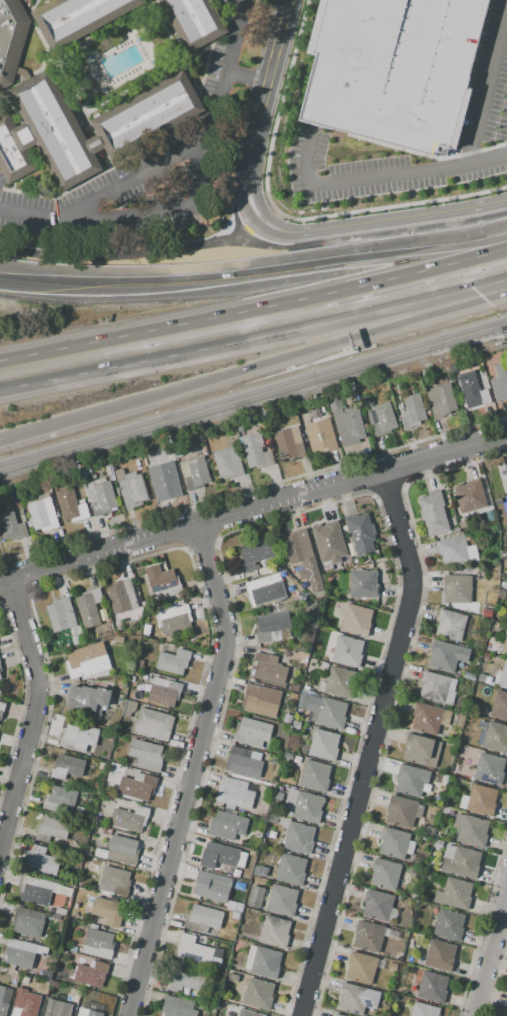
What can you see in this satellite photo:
building: (79, 19)
building: (194, 21)
building: (11, 38)
building: (392, 69)
parking lot: (392, 69)
road: (245, 77)
road: (485, 85)
road: (266, 86)
building: (147, 116)
building: (44, 134)
building: (95, 144)
road: (169, 159)
parking lot: (147, 168)
road: (378, 176)
road: (234, 213)
road: (265, 213)
road: (160, 214)
road: (427, 217)
road: (253, 222)
road: (251, 226)
road: (325, 231)
road: (371, 234)
road: (117, 253)
road: (254, 270)
road: (254, 309)
road: (254, 339)
road: (288, 356)
building: (500, 382)
building: (473, 390)
road: (253, 397)
building: (441, 399)
building: (368, 402)
building: (413, 412)
building: (370, 415)
building: (383, 420)
building: (345, 422)
road: (34, 428)
building: (320, 431)
building: (289, 442)
building: (255, 450)
building: (228, 462)
building: (506, 468)
building: (194, 472)
building: (168, 479)
building: (131, 488)
building: (470, 496)
building: (101, 497)
building: (498, 501)
building: (71, 506)
road: (253, 508)
building: (41, 512)
building: (433, 513)
building: (11, 526)
building: (456, 529)
building: (360, 534)
building: (328, 538)
road: (201, 546)
building: (297, 546)
building: (456, 552)
building: (253, 555)
building: (162, 580)
building: (314, 584)
building: (363, 584)
building: (457, 588)
building: (265, 590)
building: (122, 597)
building: (89, 607)
building: (61, 615)
building: (174, 618)
building: (356, 620)
building: (450, 625)
building: (271, 626)
building: (147, 627)
building: (492, 633)
building: (88, 636)
building: (77, 639)
building: (118, 640)
building: (347, 651)
building: (506, 652)
building: (286, 653)
building: (443, 656)
road: (47, 660)
building: (87, 661)
building: (173, 661)
building: (0, 662)
building: (139, 664)
building: (324, 666)
building: (269, 667)
building: (0, 669)
building: (503, 675)
building: (0, 676)
building: (481, 678)
building: (487, 680)
building: (340, 682)
building: (294, 687)
building: (437, 688)
building: (164, 691)
building: (87, 700)
building: (260, 700)
building: (300, 704)
building: (499, 705)
road: (33, 709)
building: (2, 710)
building: (327, 711)
building: (287, 718)
building: (429, 718)
building: (460, 719)
building: (154, 724)
building: (478, 731)
building: (252, 732)
building: (77, 736)
building: (496, 738)
road: (369, 744)
building: (324, 745)
building: (421, 750)
building: (146, 755)
building: (244, 762)
building: (102, 766)
building: (67, 767)
building: (489, 769)
road: (190, 771)
building: (315, 775)
building: (444, 779)
building: (412, 781)
building: (138, 786)
building: (234, 793)
building: (58, 797)
building: (480, 800)
building: (307, 807)
building: (79, 811)
building: (403, 811)
building: (129, 819)
building: (227, 826)
building: (51, 829)
building: (471, 829)
building: (428, 831)
building: (299, 838)
building: (394, 843)
building: (438, 844)
building: (410, 848)
building: (122, 851)
building: (97, 852)
building: (252, 853)
building: (221, 857)
building: (41, 861)
building: (461, 861)
building: (291, 870)
building: (262, 872)
building: (236, 873)
building: (385, 874)
building: (428, 874)
building: (114, 881)
building: (239, 885)
building: (212, 886)
building: (40, 891)
building: (455, 893)
building: (414, 895)
building: (255, 897)
building: (282, 901)
building: (377, 905)
building: (234, 907)
building: (107, 911)
building: (61, 912)
building: (392, 915)
building: (203, 919)
building: (28, 922)
building: (448, 925)
building: (274, 932)
building: (369, 936)
building: (98, 944)
building: (74, 949)
road: (489, 949)
building: (195, 950)
building: (20, 953)
building: (440, 955)
building: (263, 961)
building: (380, 963)
building: (361, 967)
building: (393, 967)
building: (92, 973)
building: (47, 974)
building: (55, 974)
building: (63, 975)
building: (232, 977)
building: (186, 979)
building: (432, 988)
building: (258, 994)
building: (374, 996)
building: (4, 999)
building: (352, 999)
building: (27, 1005)
building: (178, 1007)
building: (58, 1008)
building: (424, 1010)
building: (230, 1011)
building: (88, 1012)
building: (248, 1013)
building: (506, 1013)
building: (337, 1015)

